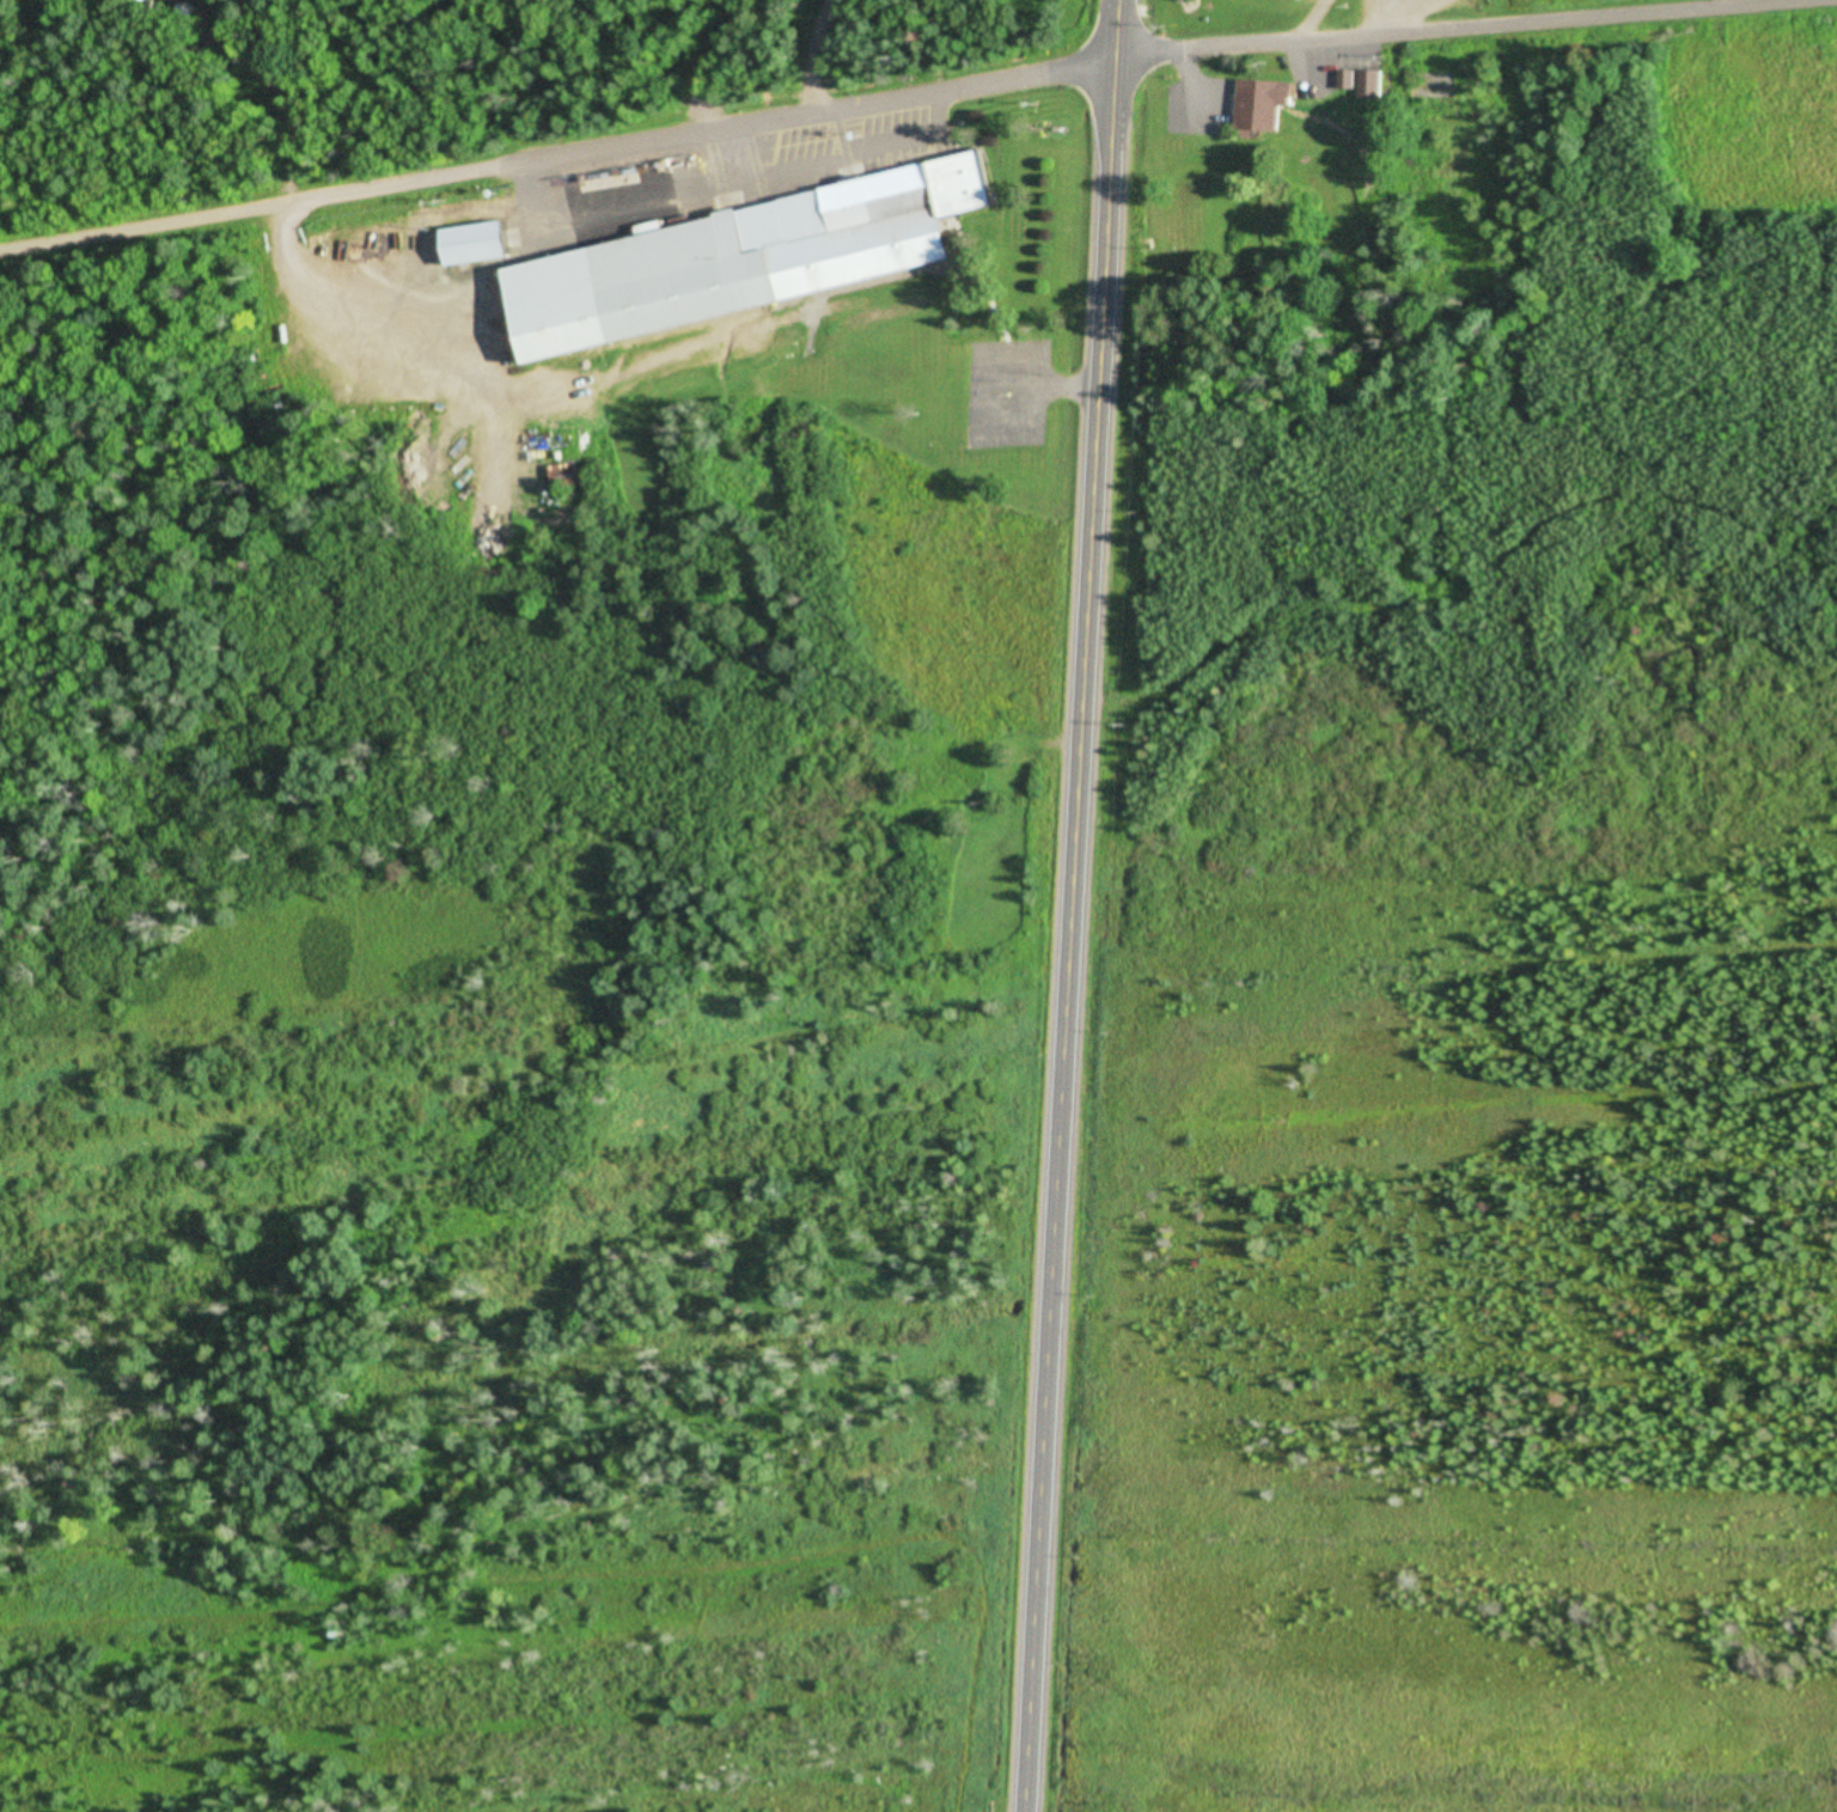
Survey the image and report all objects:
building: (1310, 0)
road: (1472, 39)
building: (1363, 83)
building: (1265, 104)
road: (554, 159)
building: (481, 243)
building: (750, 261)
building: (566, 476)
road: (1061, 905)

